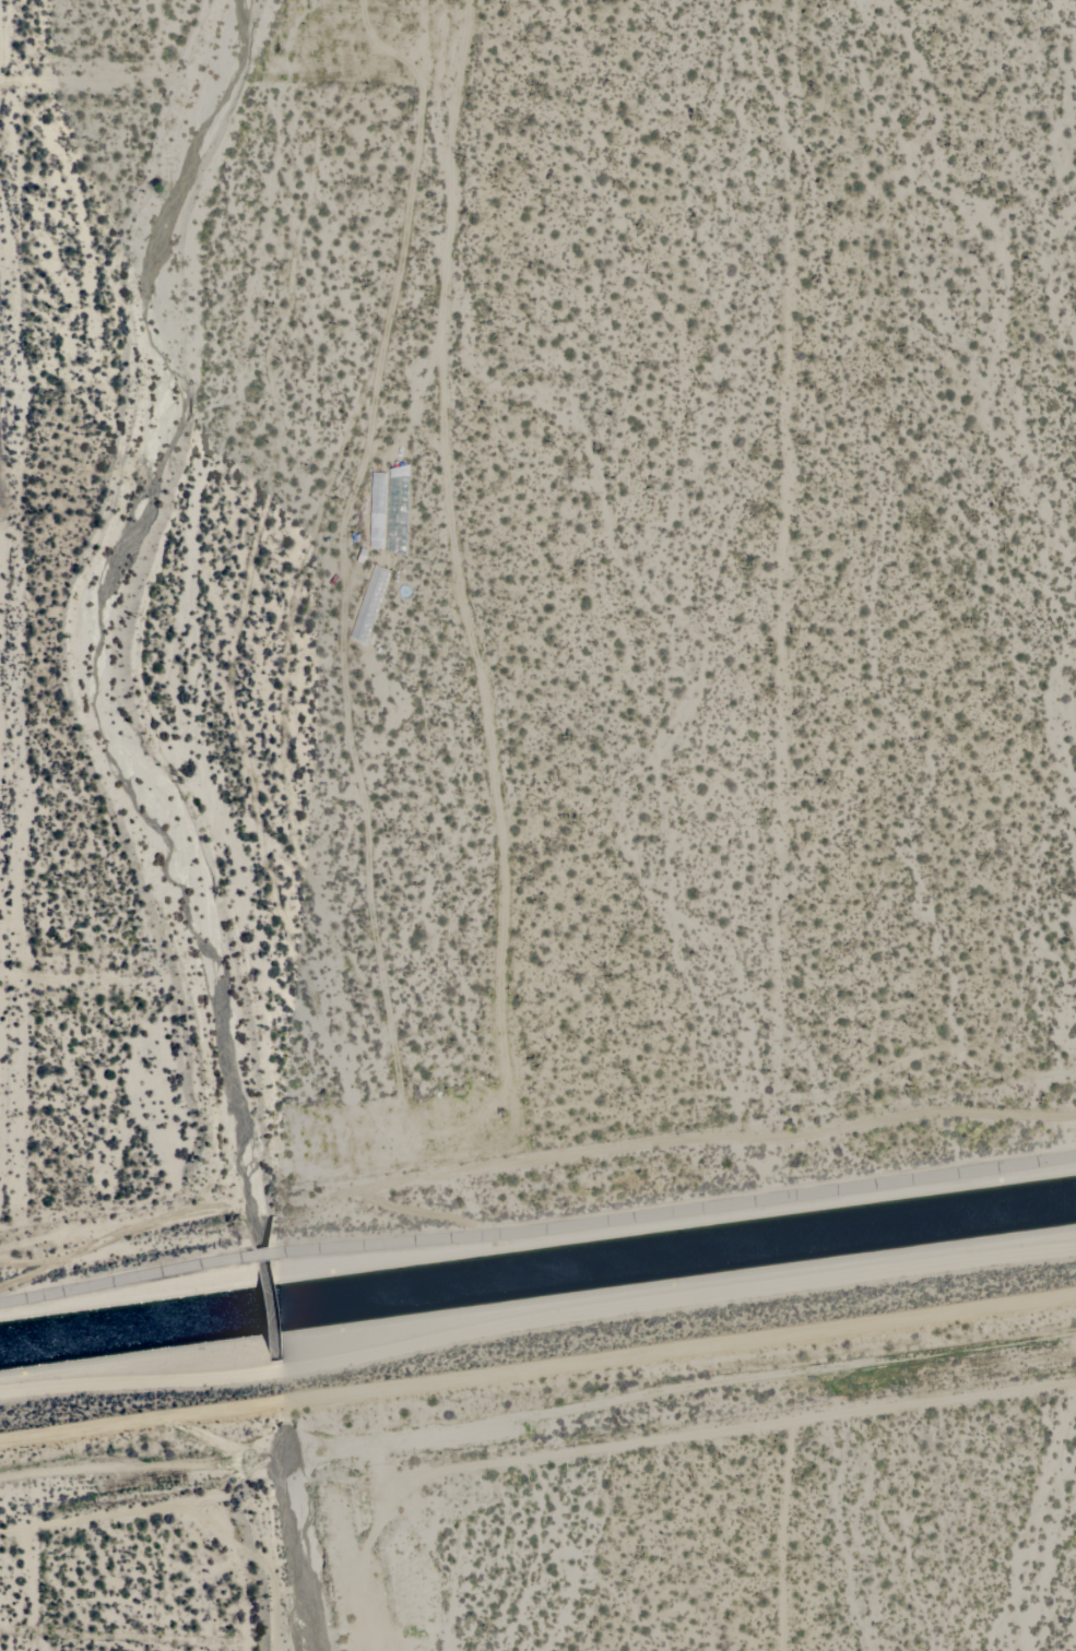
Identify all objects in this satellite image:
road: (94, 78)
road: (3, 628)
road: (2, 975)
road: (535, 1157)
road: (775, 1423)
road: (119, 1512)
road: (785, 1535)
road: (25, 1587)

